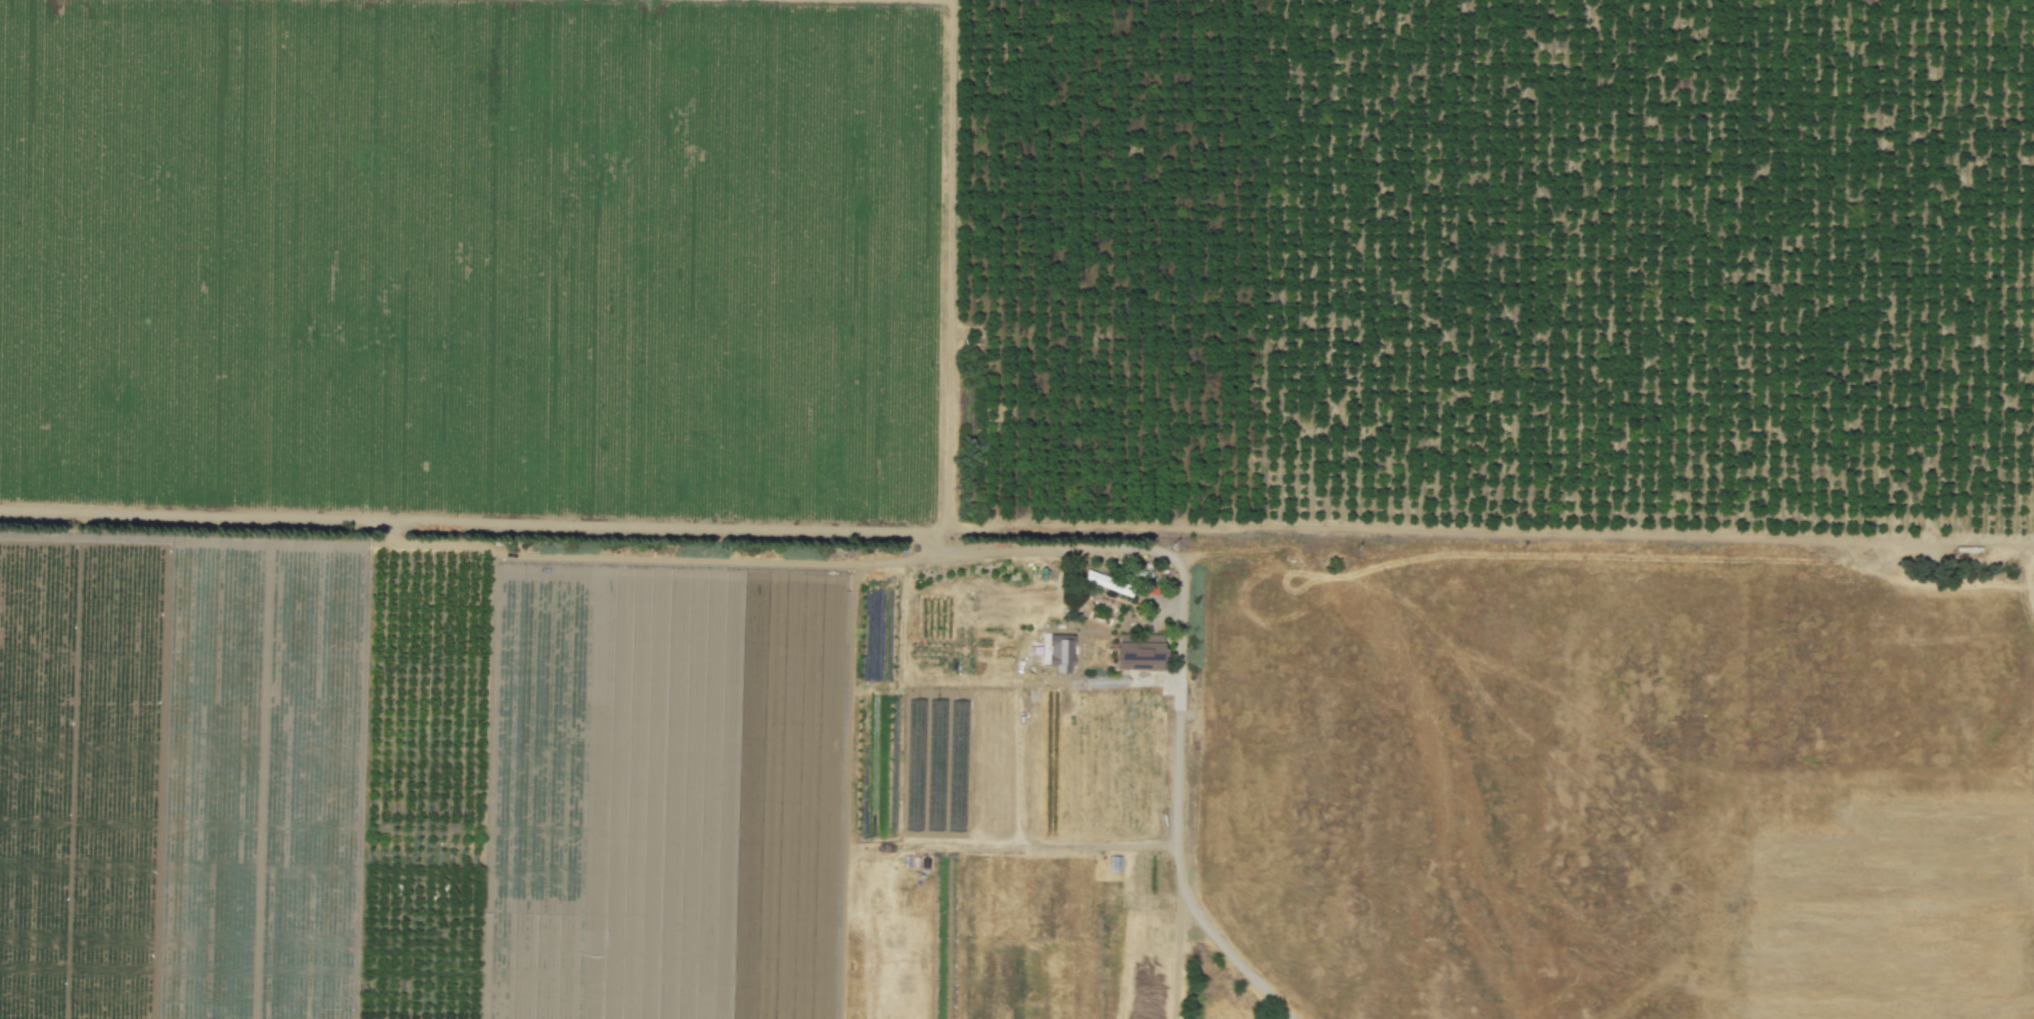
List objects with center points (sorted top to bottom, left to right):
road: (1016, 545)
building: (1100, 579)
building: (1139, 651)
road: (1176, 803)
road: (1176, 959)

